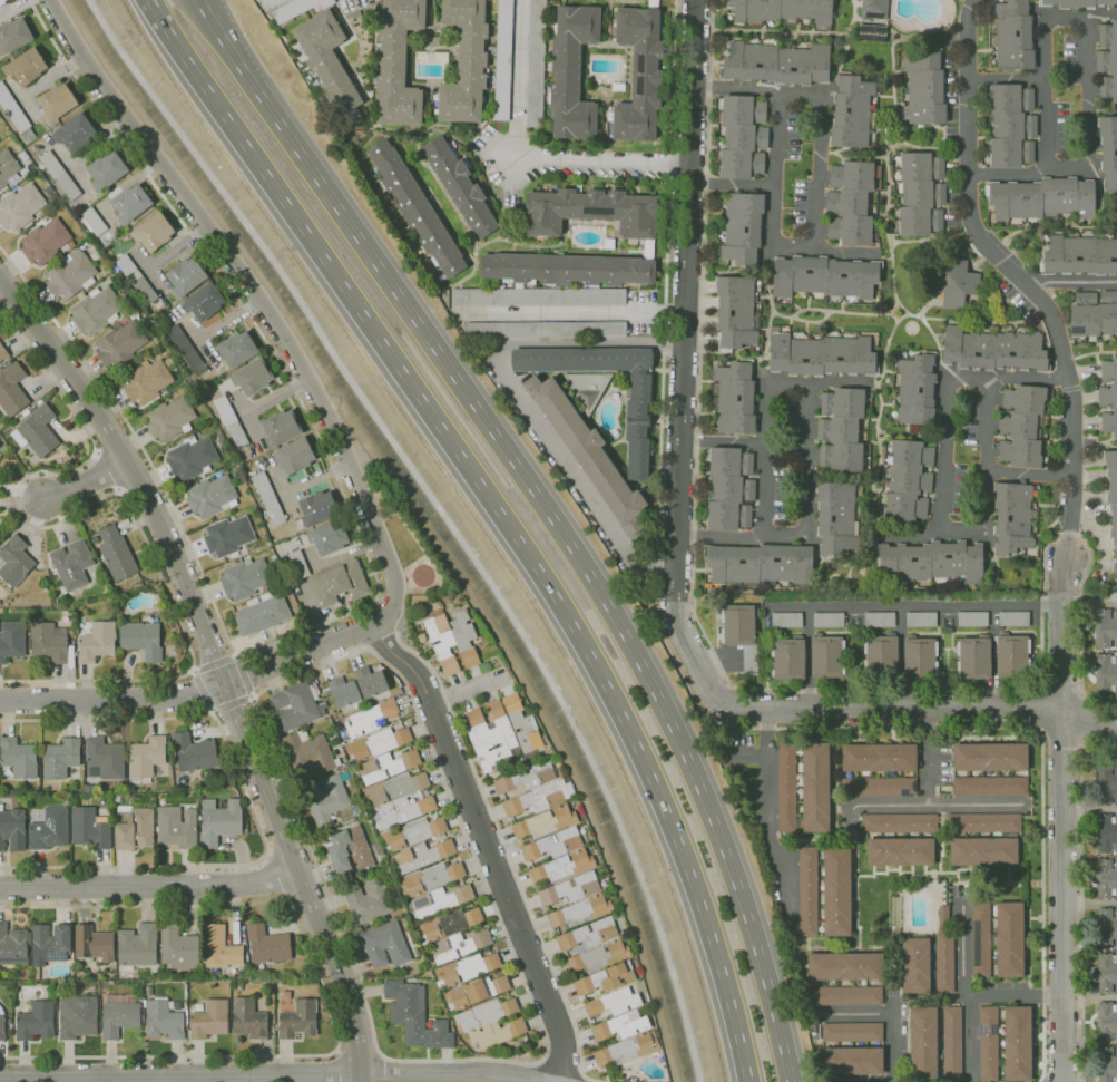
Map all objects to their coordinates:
building: (1, 2)
building: (653, 3)
building: (1076, 3)
building: (297, 9)
building: (874, 9)
building: (783, 11)
road: (787, 29)
building: (872, 33)
building: (1011, 35)
building: (13, 36)
road: (930, 38)
road: (224, 41)
building: (432, 41)
road: (1088, 52)
building: (502, 59)
road: (891, 59)
building: (1107, 61)
building: (330, 62)
building: (398, 62)
building: (466, 62)
building: (776, 62)
road: (837, 62)
building: (536, 64)
building: (26, 67)
building: (572, 71)
building: (639, 75)
road: (1005, 78)
road: (517, 79)
building: (925, 88)
building: (56, 103)
building: (852, 111)
building: (14, 113)
building: (1011, 126)
building: (75, 133)
building: (742, 137)
road: (919, 146)
building: (1108, 152)
road: (602, 164)
building: (7, 166)
building: (106, 170)
building: (59, 176)
building: (460, 185)
road: (733, 185)
building: (578, 188)
building: (920, 194)
road: (885, 198)
building: (1041, 198)
road: (820, 202)
building: (852, 203)
building: (870, 203)
building: (130, 204)
building: (19, 207)
building: (415, 208)
building: (591, 212)
building: (94, 222)
building: (742, 226)
building: (153, 232)
building: (45, 242)
building: (70, 244)
building: (609, 244)
building: (648, 250)
building: (1078, 255)
building: (566, 269)
road: (747, 269)
building: (70, 275)
building: (185, 276)
road: (1018, 276)
building: (825, 277)
building: (136, 279)
building: (954, 282)
road: (1074, 282)
road: (767, 290)
road: (702, 295)
building: (538, 296)
road: (258, 300)
building: (204, 302)
road: (896, 304)
road: (807, 308)
road: (571, 310)
building: (95, 311)
road: (860, 312)
building: (735, 313)
building: (1094, 314)
building: (546, 329)
road: (937, 343)
building: (120, 344)
road: (766, 347)
building: (996, 349)
building: (186, 350)
building: (236, 350)
road: (733, 352)
building: (2, 353)
building: (821, 355)
road: (683, 368)
building: (252, 378)
building: (146, 382)
building: (602, 387)
building: (917, 389)
building: (12, 390)
road: (275, 396)
building: (1108, 396)
road: (519, 397)
building: (734, 398)
building: (26, 412)
road: (244, 415)
building: (169, 419)
building: (231, 422)
road: (815, 426)
building: (1021, 426)
building: (280, 428)
building: (841, 430)
building: (37, 431)
road: (875, 432)
building: (221, 438)
road: (724, 441)
building: (0, 454)
building: (588, 454)
building: (0, 455)
building: (294, 456)
building: (192, 458)
road: (1029, 475)
road: (314, 477)
road: (85, 480)
building: (908, 480)
building: (729, 489)
road: (284, 491)
road: (112, 493)
building: (1111, 496)
building: (212, 497)
building: (268, 499)
building: (316, 508)
road: (502, 513)
building: (1012, 517)
building: (215, 518)
building: (836, 519)
park: (402, 532)
road: (914, 532)
road: (977, 532)
building: (228, 536)
building: (329, 537)
building: (116, 554)
road: (576, 554)
building: (275, 561)
building: (14, 562)
building: (931, 562)
building: (72, 564)
building: (298, 564)
road: (371, 564)
building: (760, 564)
building: (245, 579)
building: (340, 584)
building: (45, 588)
building: (55, 601)
road: (914, 605)
building: (262, 613)
building: (119, 617)
building: (971, 617)
building: (1012, 617)
building: (785, 618)
building: (827, 618)
building: (878, 618)
building: (920, 618)
building: (737, 624)
building: (1105, 627)
building: (11, 640)
building: (141, 640)
building: (451, 640)
building: (49, 642)
building: (97, 642)
building: (880, 654)
road: (236, 655)
building: (825, 655)
building: (1011, 655)
road: (901, 657)
building: (919, 657)
building: (973, 657)
building: (787, 659)
road: (807, 659)
road: (1078, 659)
road: (215, 663)
road: (216, 665)
road: (193, 671)
building: (1106, 673)
road: (243, 675)
road: (293, 678)
building: (369, 681)
road: (950, 688)
road: (204, 690)
building: (343, 691)
road: (190, 693)
road: (252, 696)
road: (694, 699)
road: (232, 701)
building: (295, 708)
road: (212, 709)
road: (901, 709)
building: (370, 718)
road: (1088, 723)
building: (521, 724)
building: (489, 733)
building: (378, 742)
building: (193, 753)
building: (305, 753)
road: (753, 754)
building: (147, 756)
building: (991, 757)
building: (19, 758)
building: (60, 758)
building: (879, 758)
building: (104, 759)
building: (390, 763)
building: (1106, 784)
building: (814, 786)
building: (879, 786)
building: (989, 786)
building: (786, 788)
building: (89, 789)
building: (151, 797)
building: (159, 797)
building: (400, 798)
road: (931, 798)
building: (326, 799)
building: (536, 799)
road: (878, 801)
road: (253, 808)
road: (1061, 819)
building: (219, 821)
building: (898, 821)
building: (983, 821)
road: (767, 822)
building: (176, 827)
building: (12, 828)
building: (90, 828)
building: (134, 828)
building: (50, 829)
building: (418, 831)
building: (1106, 832)
road: (486, 844)
building: (349, 850)
building: (983, 850)
road: (287, 851)
building: (900, 851)
building: (557, 855)
building: (1106, 878)
road: (149, 887)
building: (837, 890)
road: (305, 891)
building: (807, 891)
building: (368, 899)
building: (574, 899)
road: (1081, 900)
building: (459, 920)
building: (1106, 927)
building: (980, 938)
building: (1010, 939)
building: (462, 943)
building: (50, 944)
building: (95, 944)
building: (267, 945)
building: (385, 945)
building: (591, 945)
building: (13, 946)
building: (137, 946)
building: (178, 947)
building: (219, 947)
building: (945, 962)
building: (476, 965)
building: (842, 965)
building: (915, 965)
building: (1106, 973)
building: (604, 978)
building: (237, 986)
building: (477, 990)
building: (148, 991)
road: (962, 993)
building: (844, 995)
road: (326, 997)
building: (610, 1003)
building: (199, 1007)
road: (890, 1011)
building: (77, 1016)
building: (415, 1016)
building: (119, 1018)
building: (248, 1018)
building: (163, 1020)
building: (209, 1020)
building: (298, 1020)
building: (36, 1021)
building: (490, 1022)
building: (1106, 1022)
building: (2, 1025)
building: (620, 1025)
building: (853, 1031)
building: (922, 1037)
road: (970, 1039)
building: (951, 1043)
building: (1018, 1043)
building: (988, 1044)
road: (356, 1049)
building: (625, 1049)
building: (853, 1060)
building: (1106, 1064)
road: (392, 1071)
road: (262, 1075)

